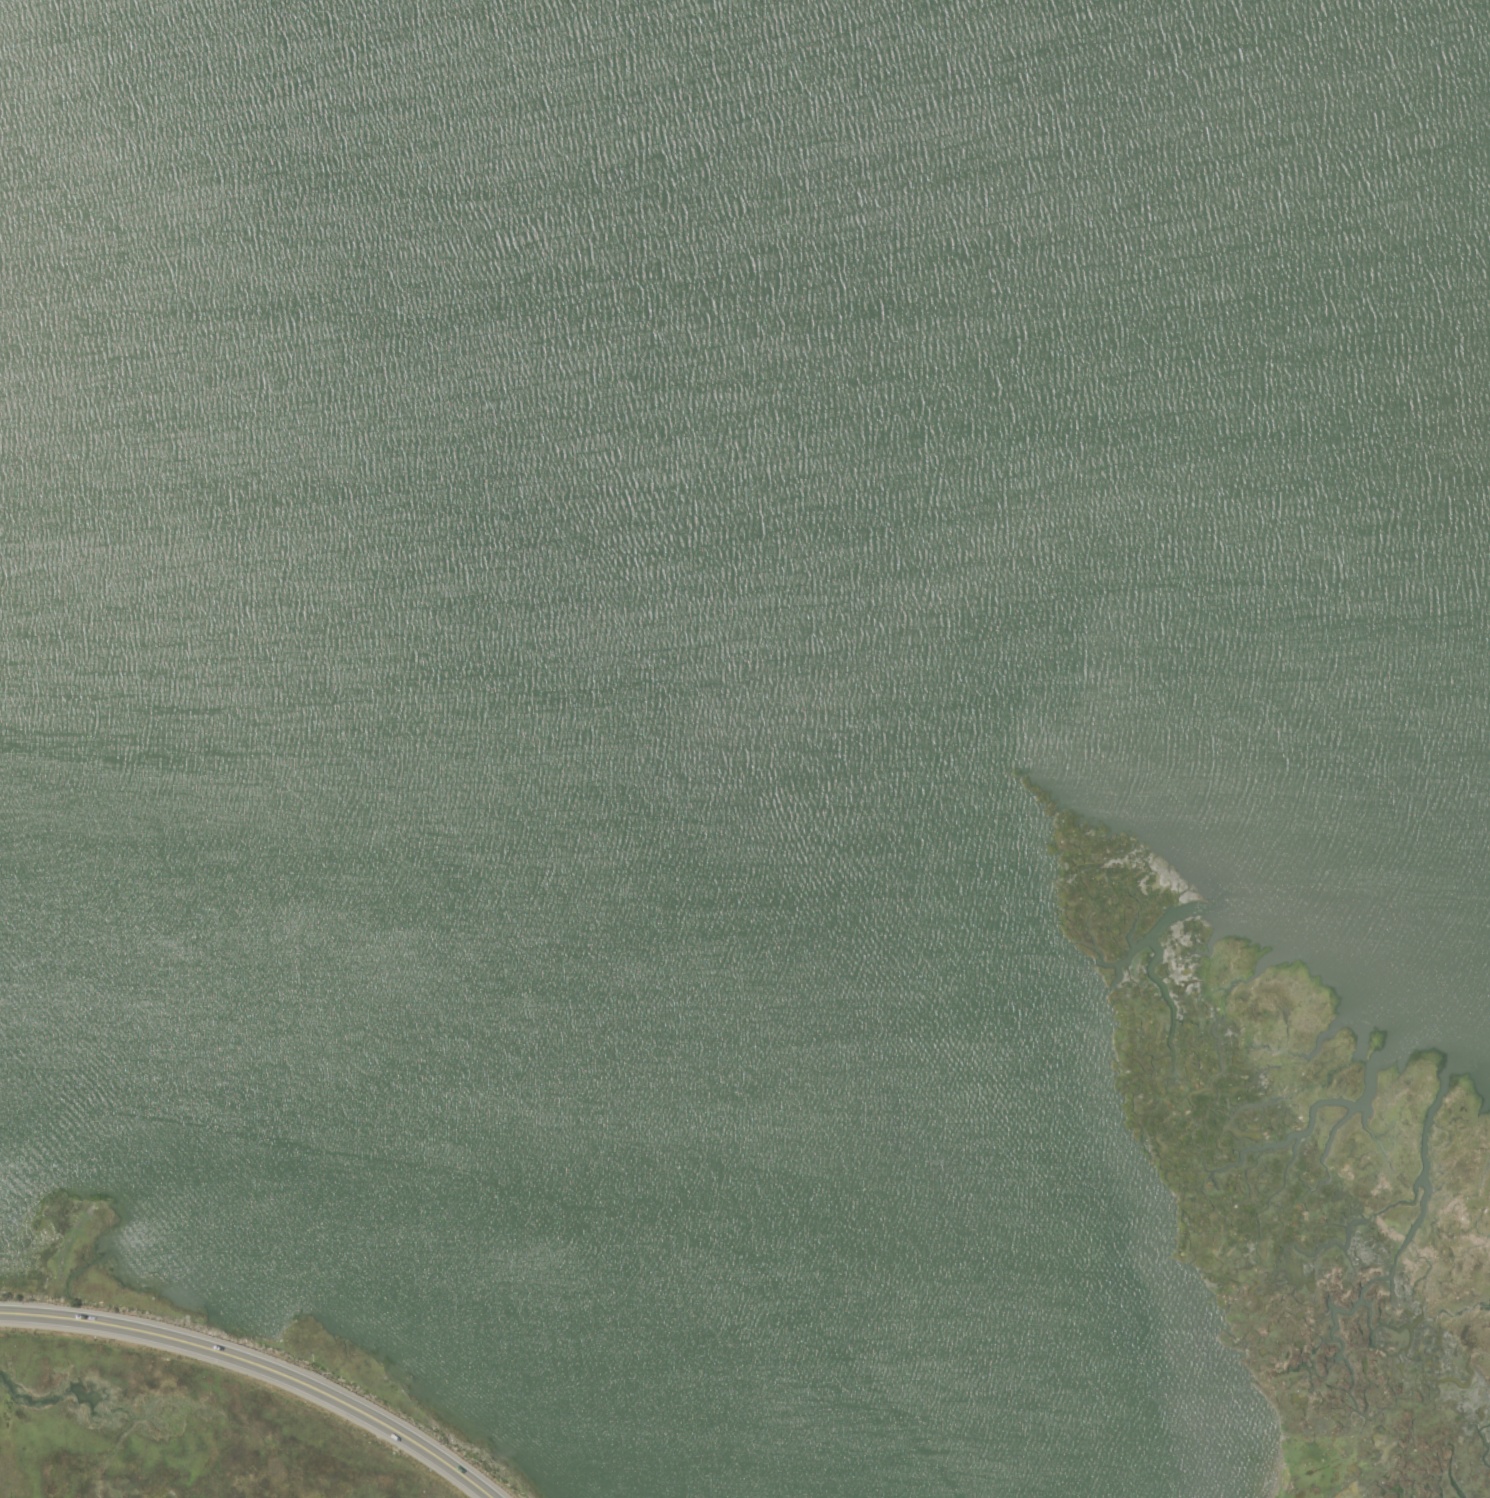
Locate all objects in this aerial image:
road: (262, 1364)
airport: (172, 1433)

